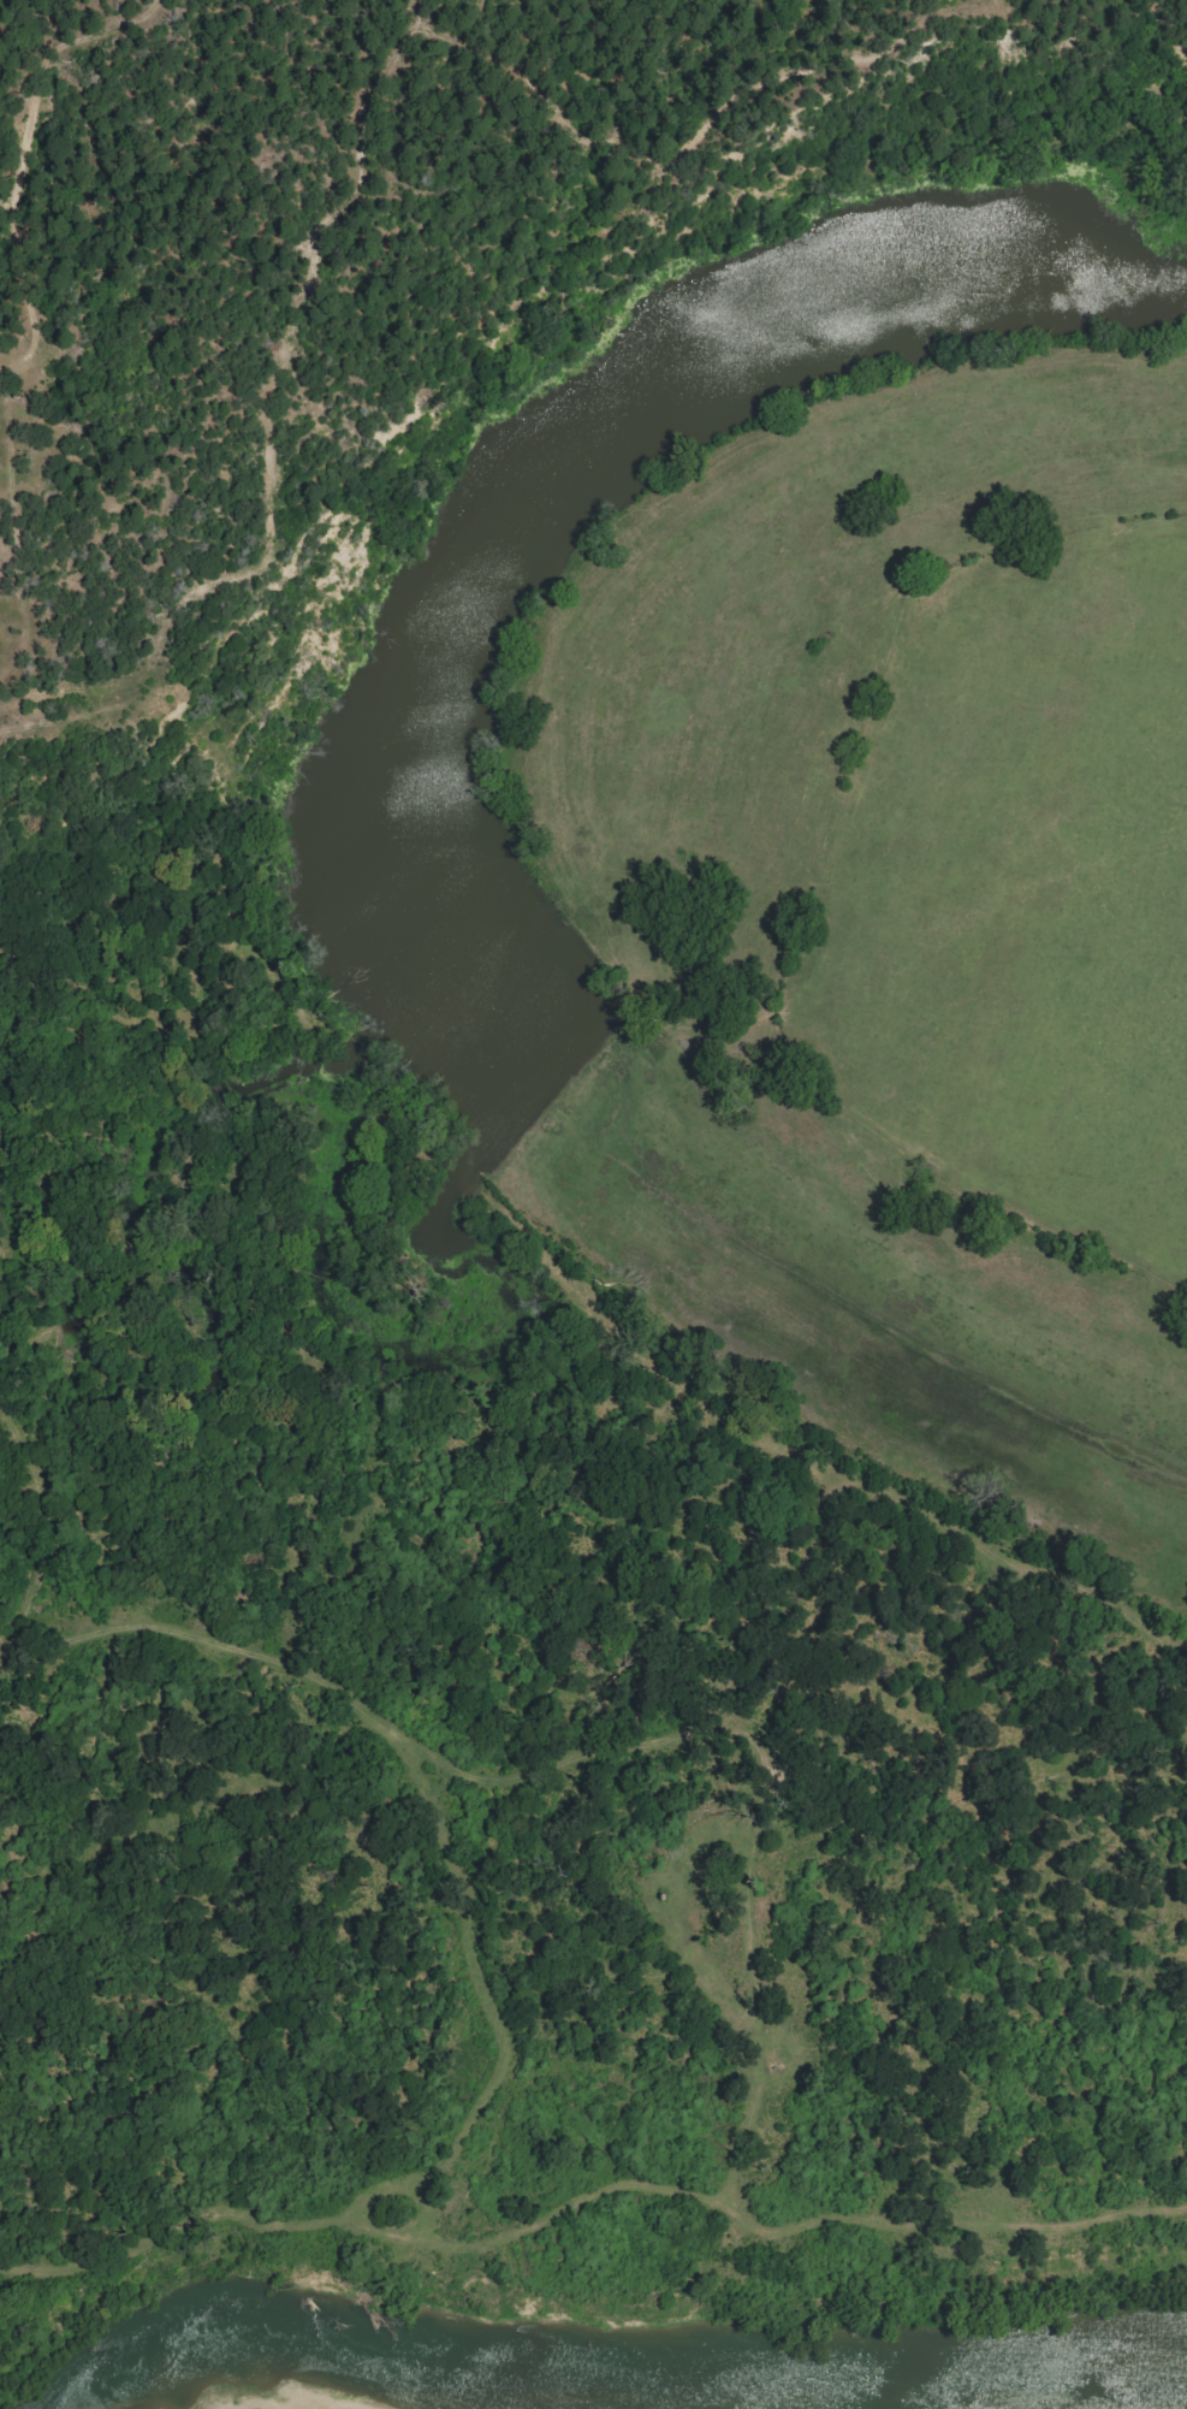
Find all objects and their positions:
river: (404, 2366)
river: (986, 2384)

